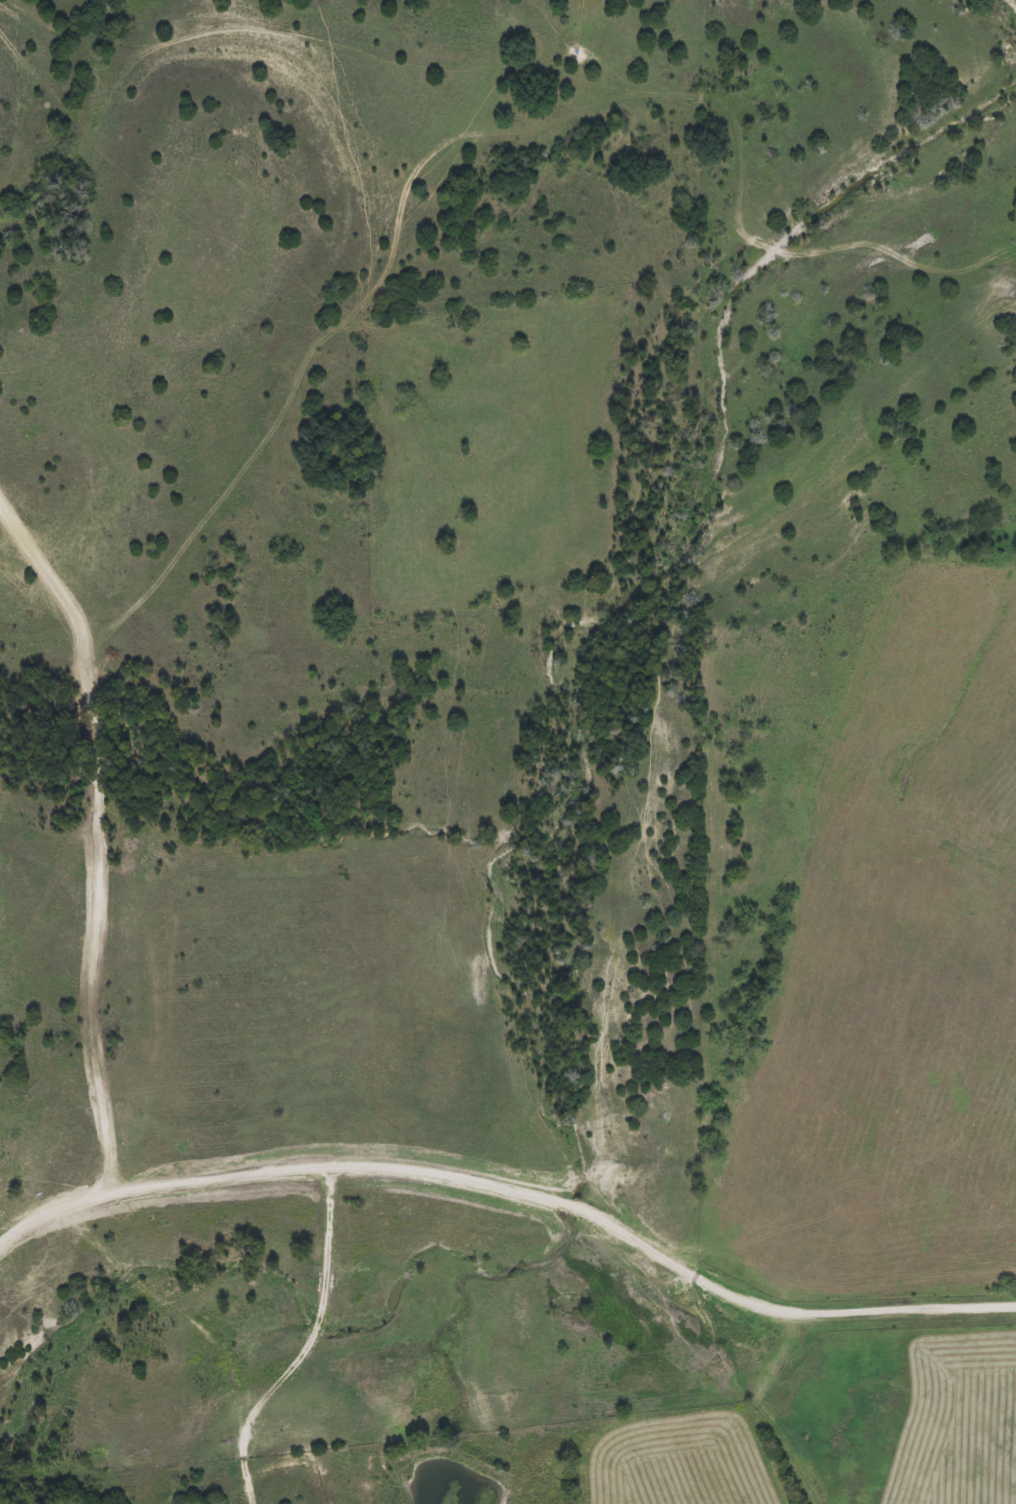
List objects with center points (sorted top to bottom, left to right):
road: (93, 745)
road: (513, 1190)

